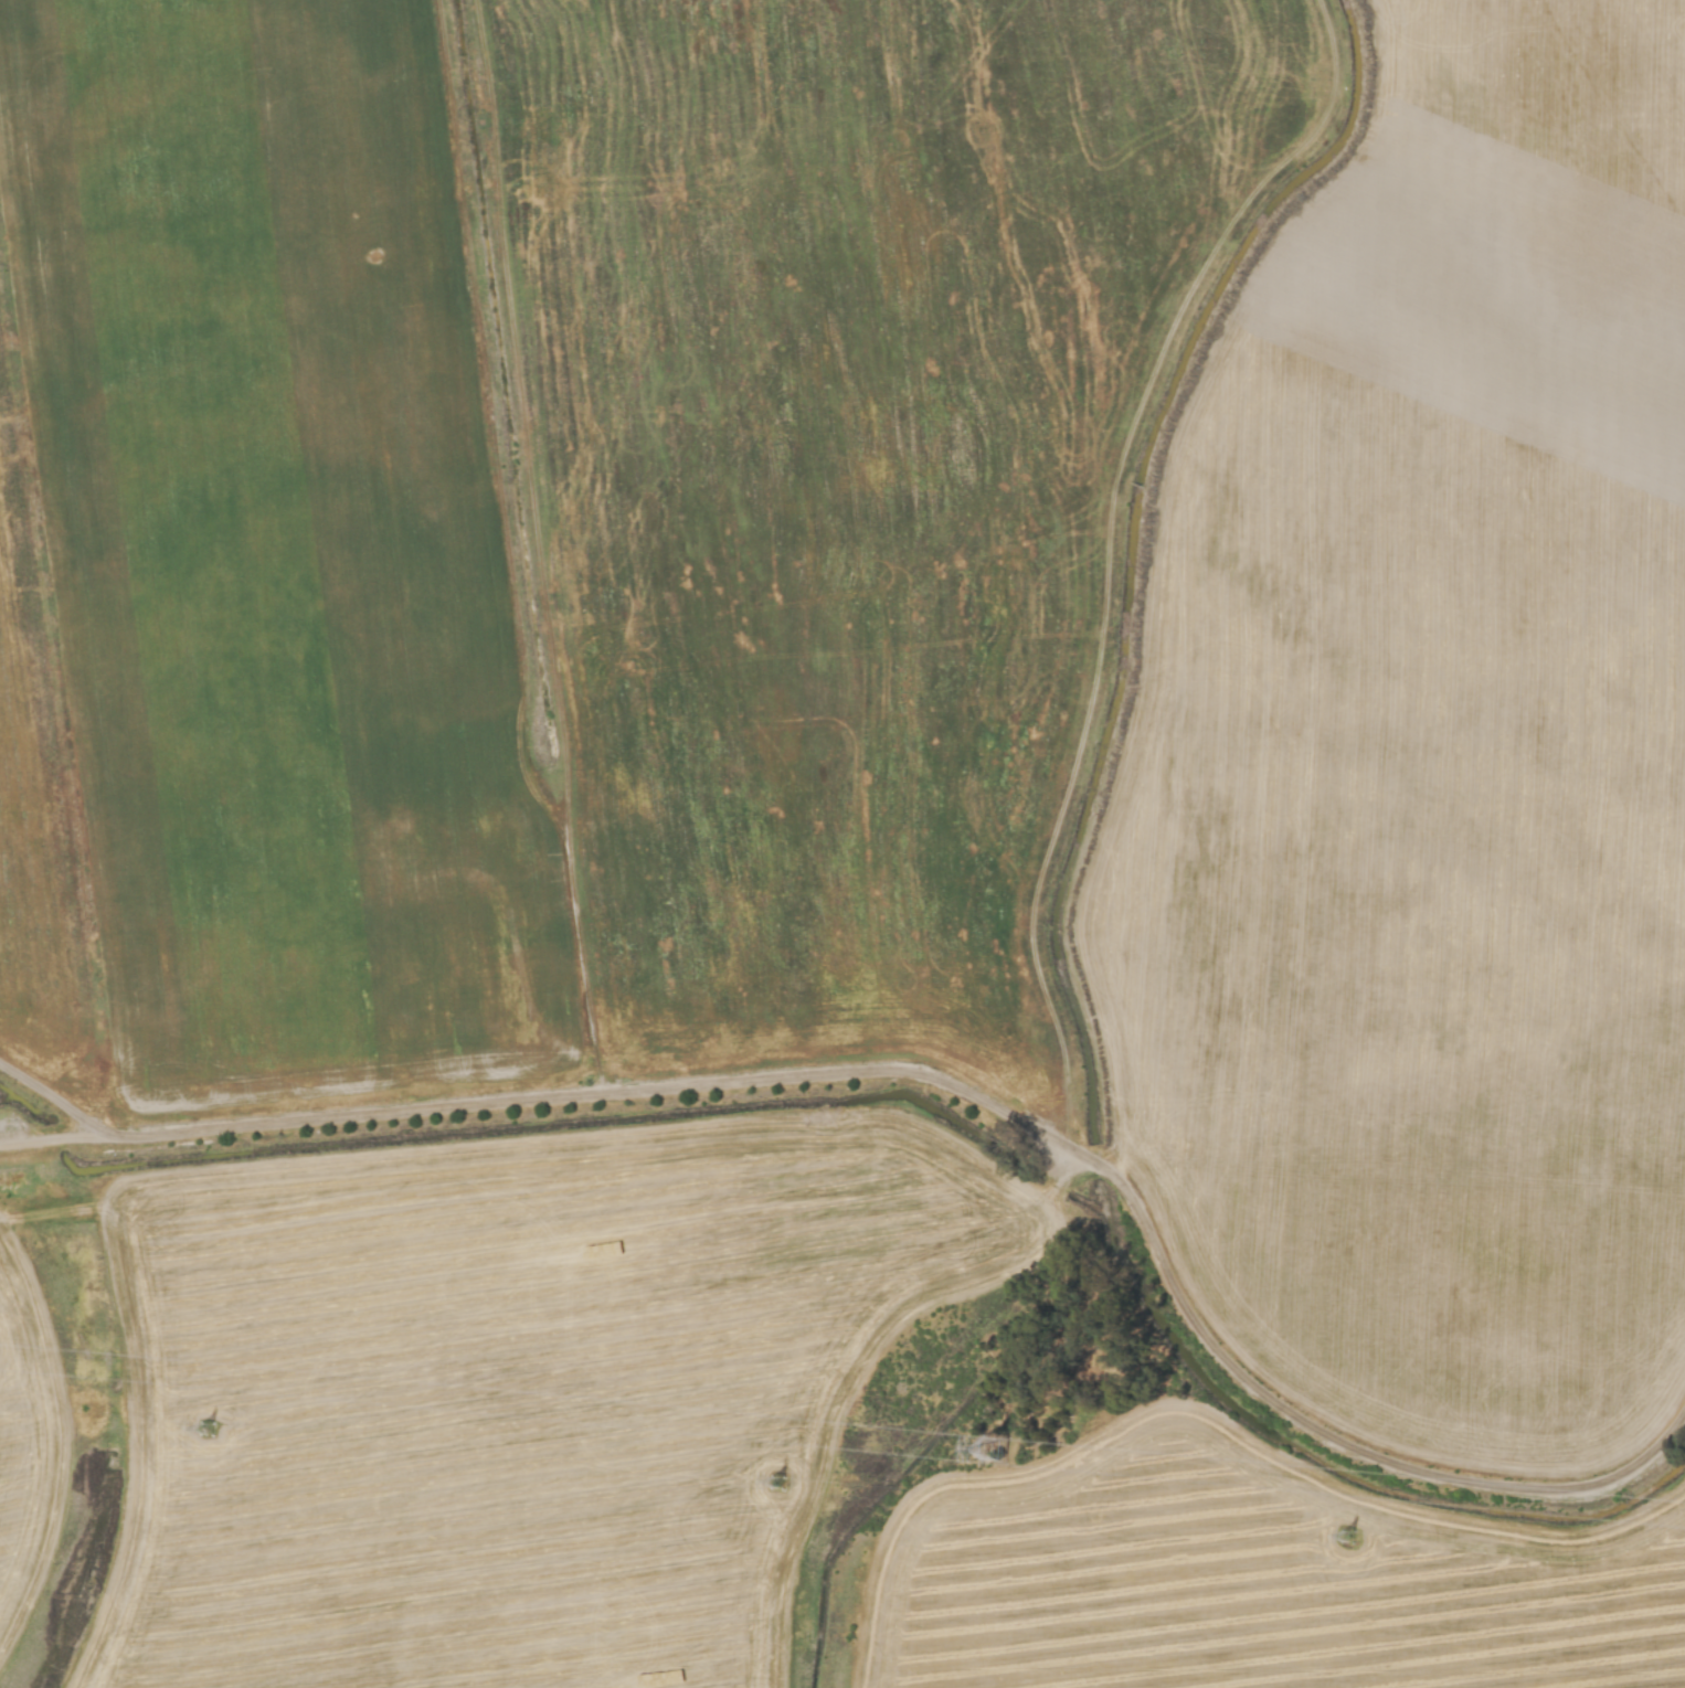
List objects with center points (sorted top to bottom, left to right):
power tower: (206, 1432)
power tower: (996, 1452)
power tower: (780, 1487)
power tower: (1344, 1538)

